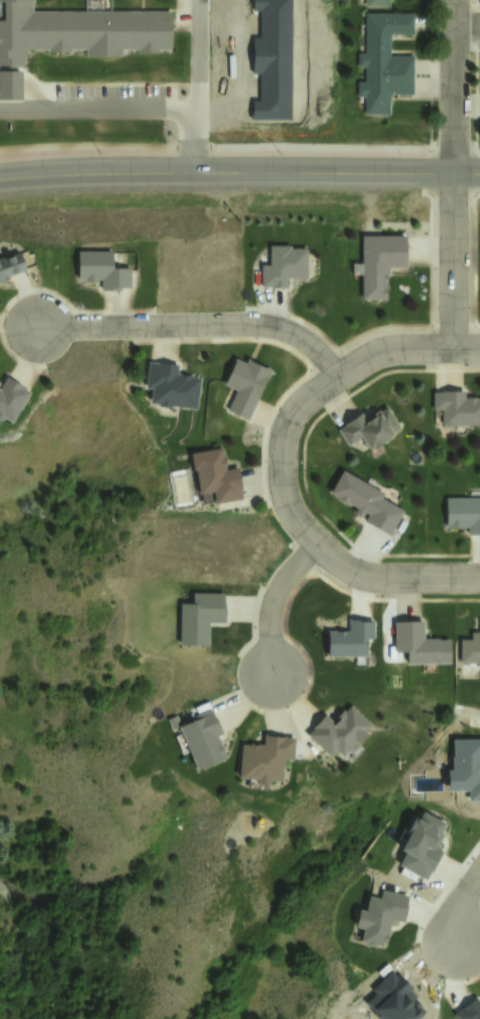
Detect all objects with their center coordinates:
building: (377, 3)
road: (465, 25)
building: (71, 39)
building: (384, 61)
road: (203, 86)
parking lot: (91, 110)
road: (249, 151)
road: (450, 170)
road: (239, 173)
building: (11, 264)
building: (380, 266)
building: (286, 268)
building: (101, 273)
road: (192, 324)
building: (248, 389)
building: (171, 390)
building: (12, 405)
building: (456, 407)
building: (368, 427)
road: (286, 464)
building: (218, 481)
building: (365, 502)
building: (462, 513)
road: (274, 599)
building: (198, 616)
building: (353, 643)
building: (469, 647)
building: (422, 648)
building: (338, 730)
building: (202, 738)
building: (263, 757)
building: (466, 769)
building: (425, 847)
road: (461, 907)
building: (381, 917)
building: (472, 1009)

